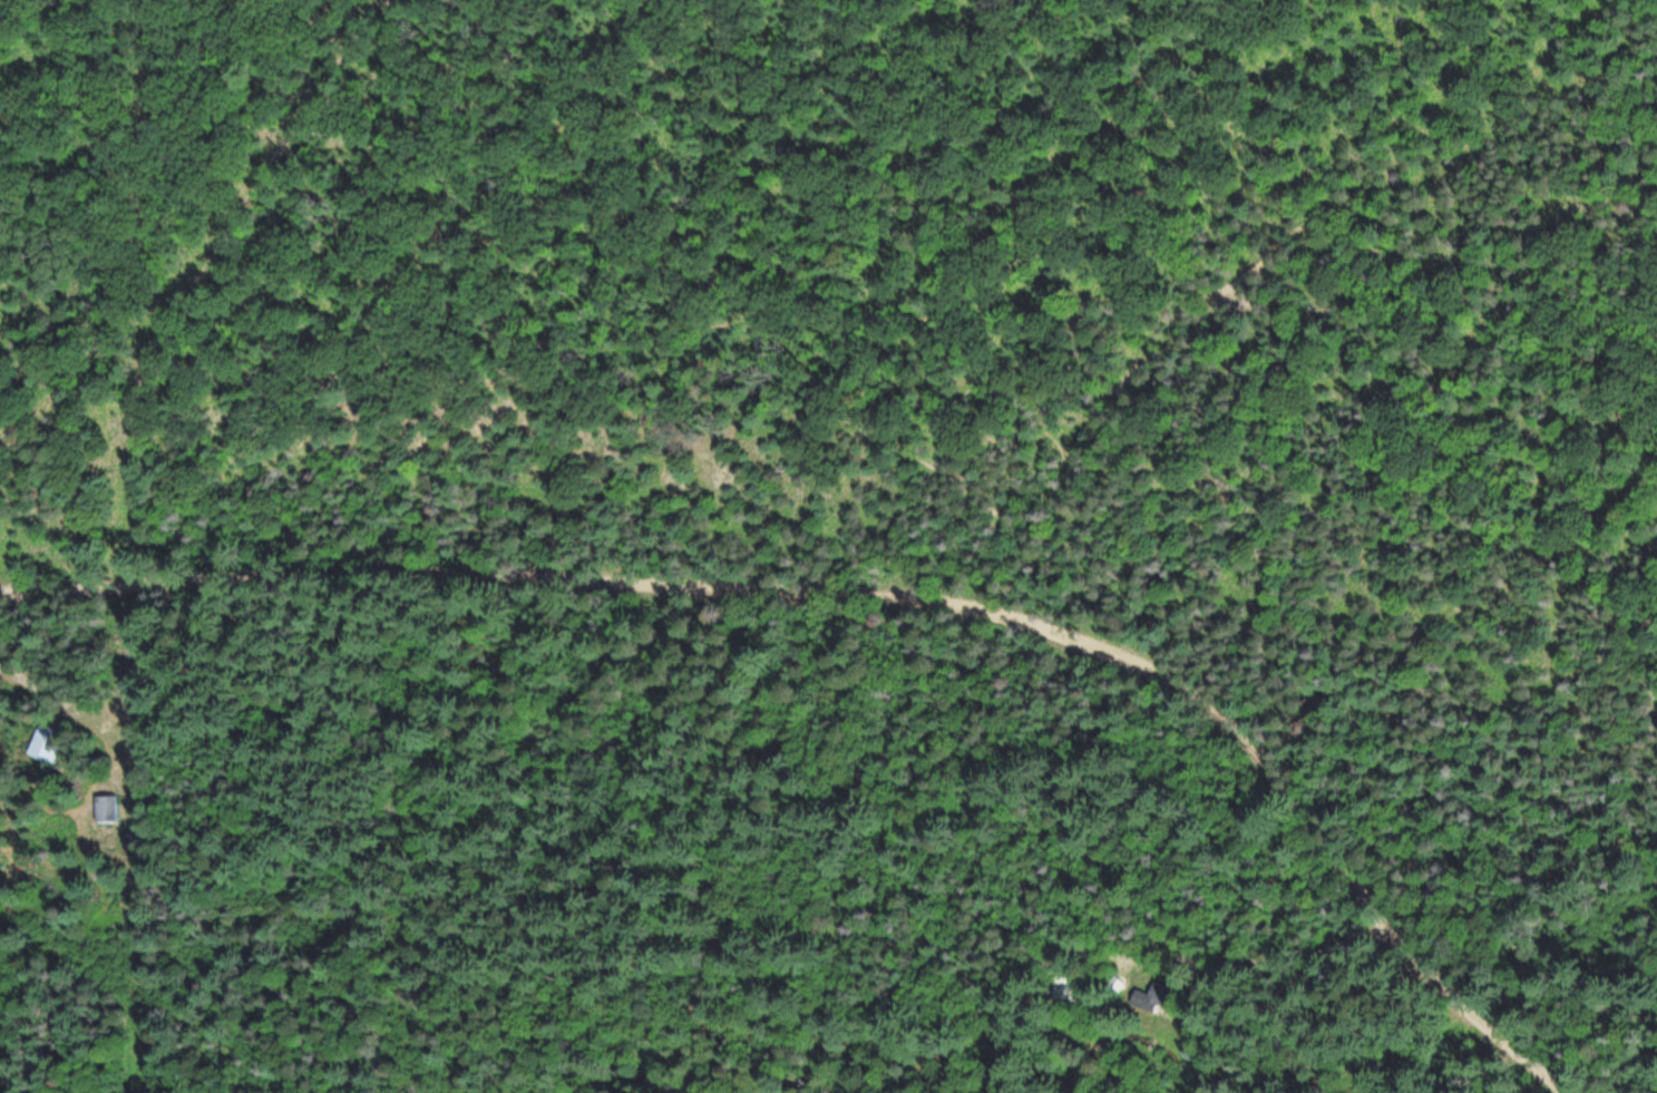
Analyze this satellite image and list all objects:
road: (1452, 270)
road: (202, 271)
road: (1307, 350)
road: (827, 591)
building: (51, 738)
building: (110, 807)
building: (1121, 982)
building: (1072, 987)
building: (1161, 995)
road: (1503, 1040)
road: (1546, 1072)

